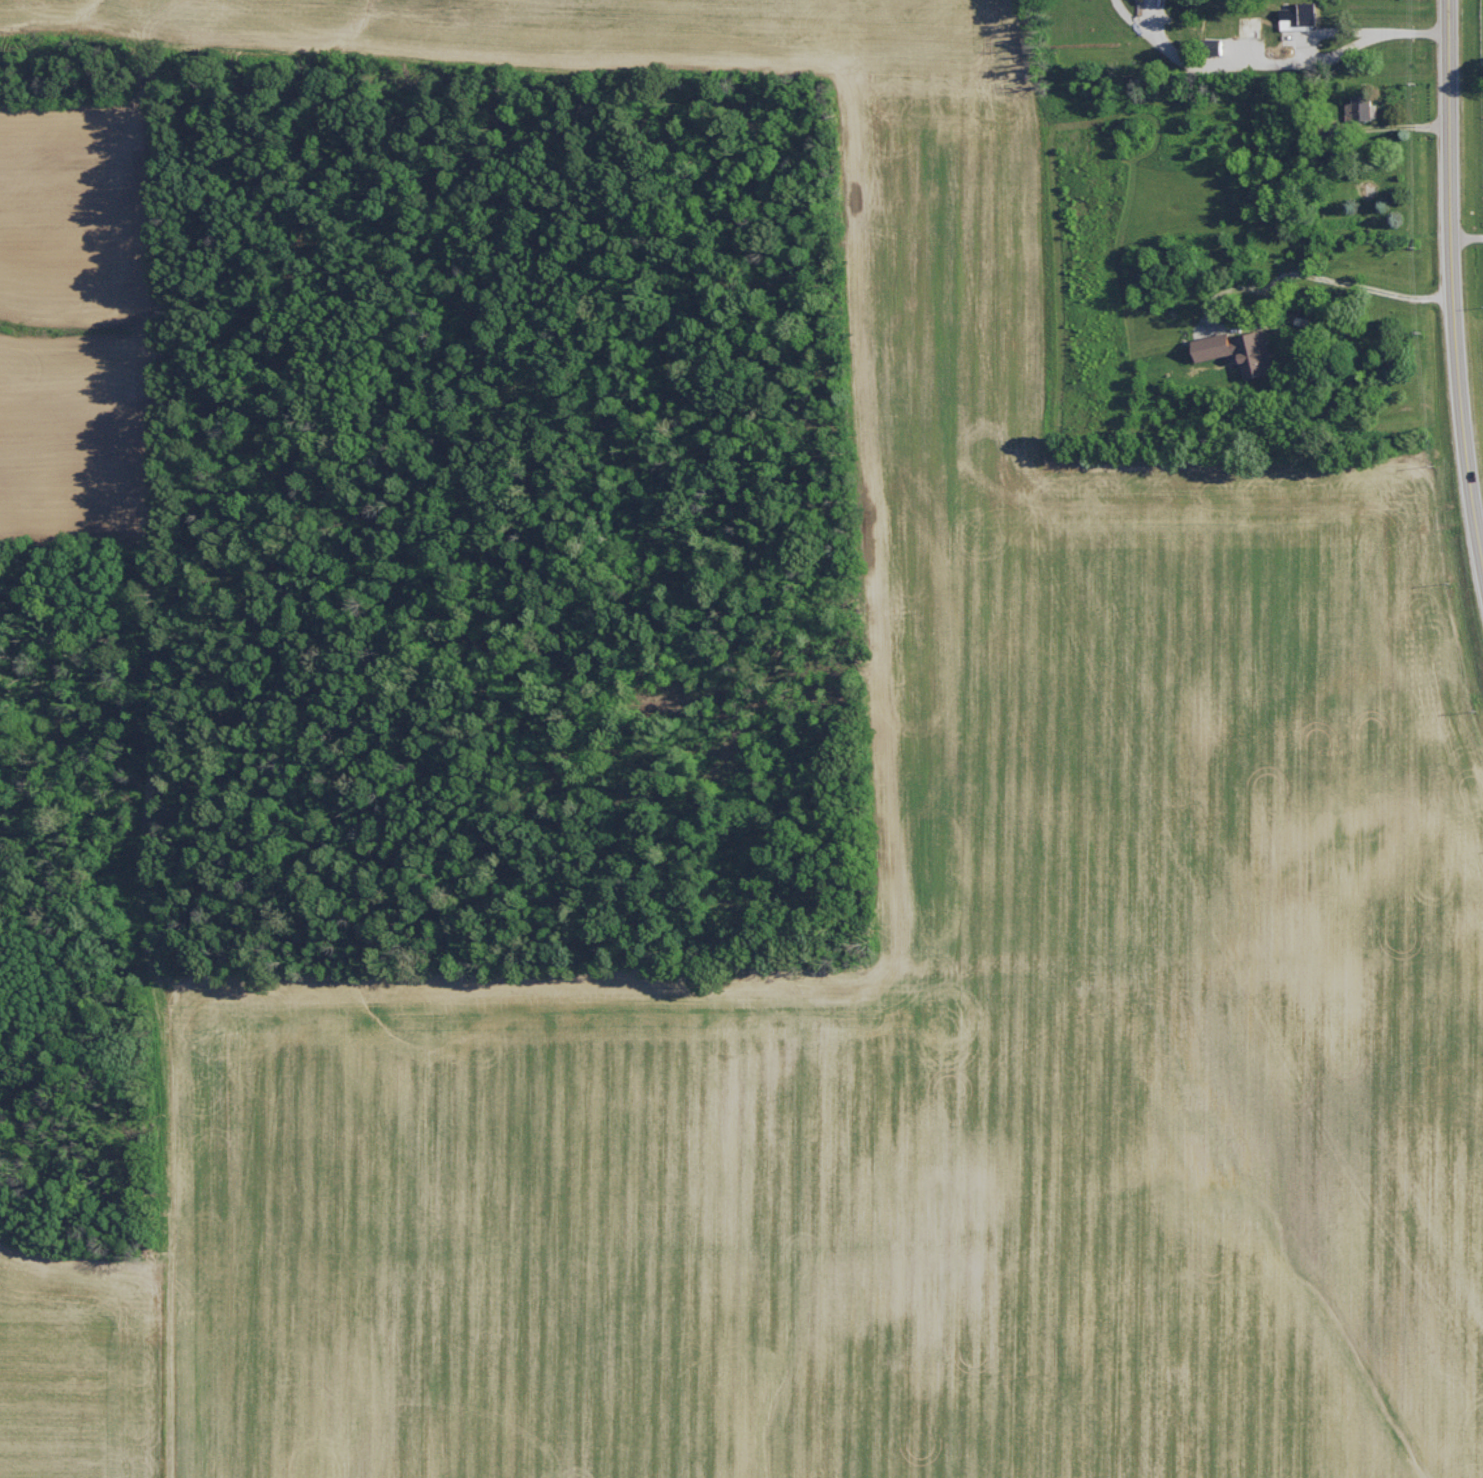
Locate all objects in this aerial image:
building: (1299, 15)
building: (1212, 45)
road: (1341, 50)
building: (1358, 107)
road: (1468, 237)
road: (1454, 275)
road: (1321, 277)
building: (1242, 351)

